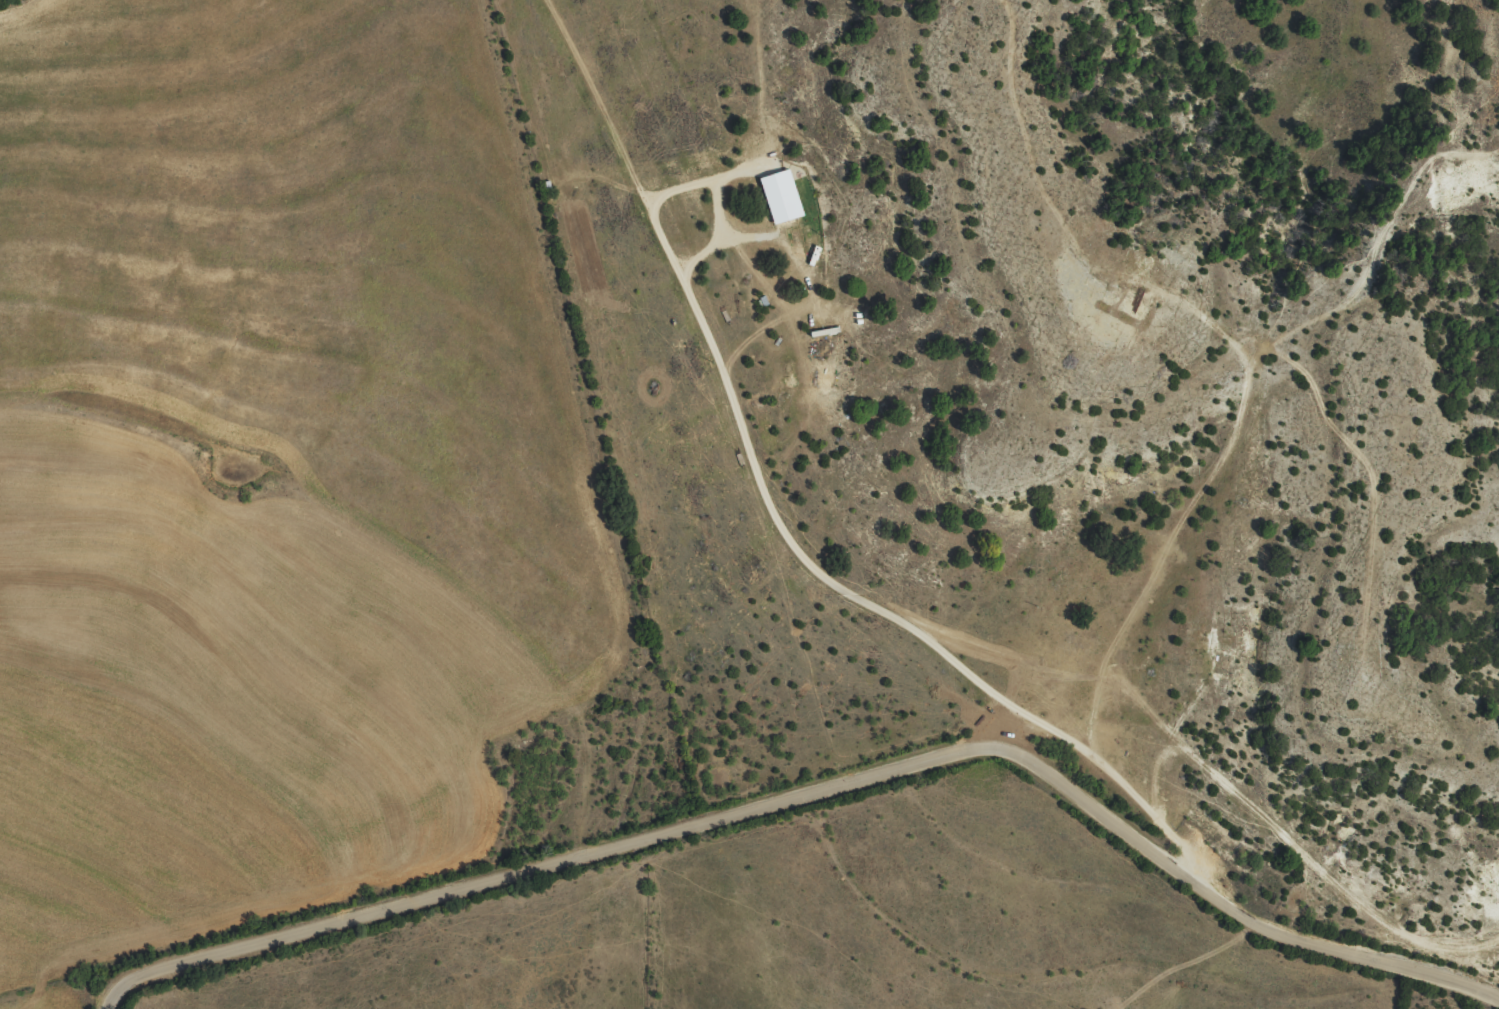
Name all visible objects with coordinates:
road: (696, 189)
building: (779, 204)
road: (863, 606)
road: (822, 793)

